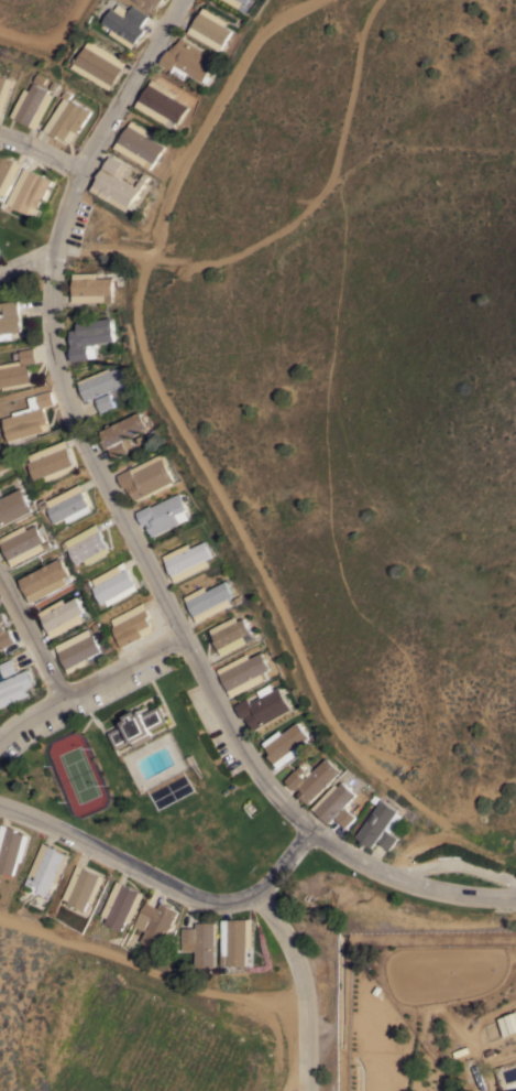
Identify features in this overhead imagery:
building: (151, 2)
building: (240, 3)
building: (124, 22)
building: (210, 29)
building: (188, 61)
building: (98, 64)
building: (4, 91)
building: (161, 102)
building: (32, 105)
building: (66, 118)
building: (140, 143)
road: (39, 153)
building: (8, 172)
building: (116, 183)
building: (32, 191)
building: (0, 255)
road: (25, 261)
building: (91, 288)
building: (9, 318)
building: (89, 337)
building: (18, 369)
building: (100, 381)
building: (105, 401)
building: (30, 419)
building: (121, 433)
building: (2, 460)
building: (52, 461)
building: (0, 472)
building: (145, 475)
building: (67, 504)
building: (13, 506)
building: (163, 514)
road: (131, 527)
building: (23, 543)
building: (87, 544)
building: (186, 560)
building: (44, 579)
building: (114, 583)
building: (208, 599)
building: (62, 615)
building: (132, 624)
building: (4, 631)
building: (230, 634)
road: (29, 640)
building: (78, 648)
building: (8, 667)
building: (243, 672)
road: (94, 683)
building: (15, 687)
building: (262, 706)
building: (138, 726)
building: (286, 744)
building: (312, 778)
building: (333, 800)
building: (347, 817)
building: (381, 825)
building: (11, 847)
building: (46, 867)
building: (83, 886)
road: (163, 887)
building: (121, 905)
building: (156, 922)
building: (238, 939)
building: (204, 942)
road: (301, 986)
building: (507, 1023)
road: (293, 1074)

